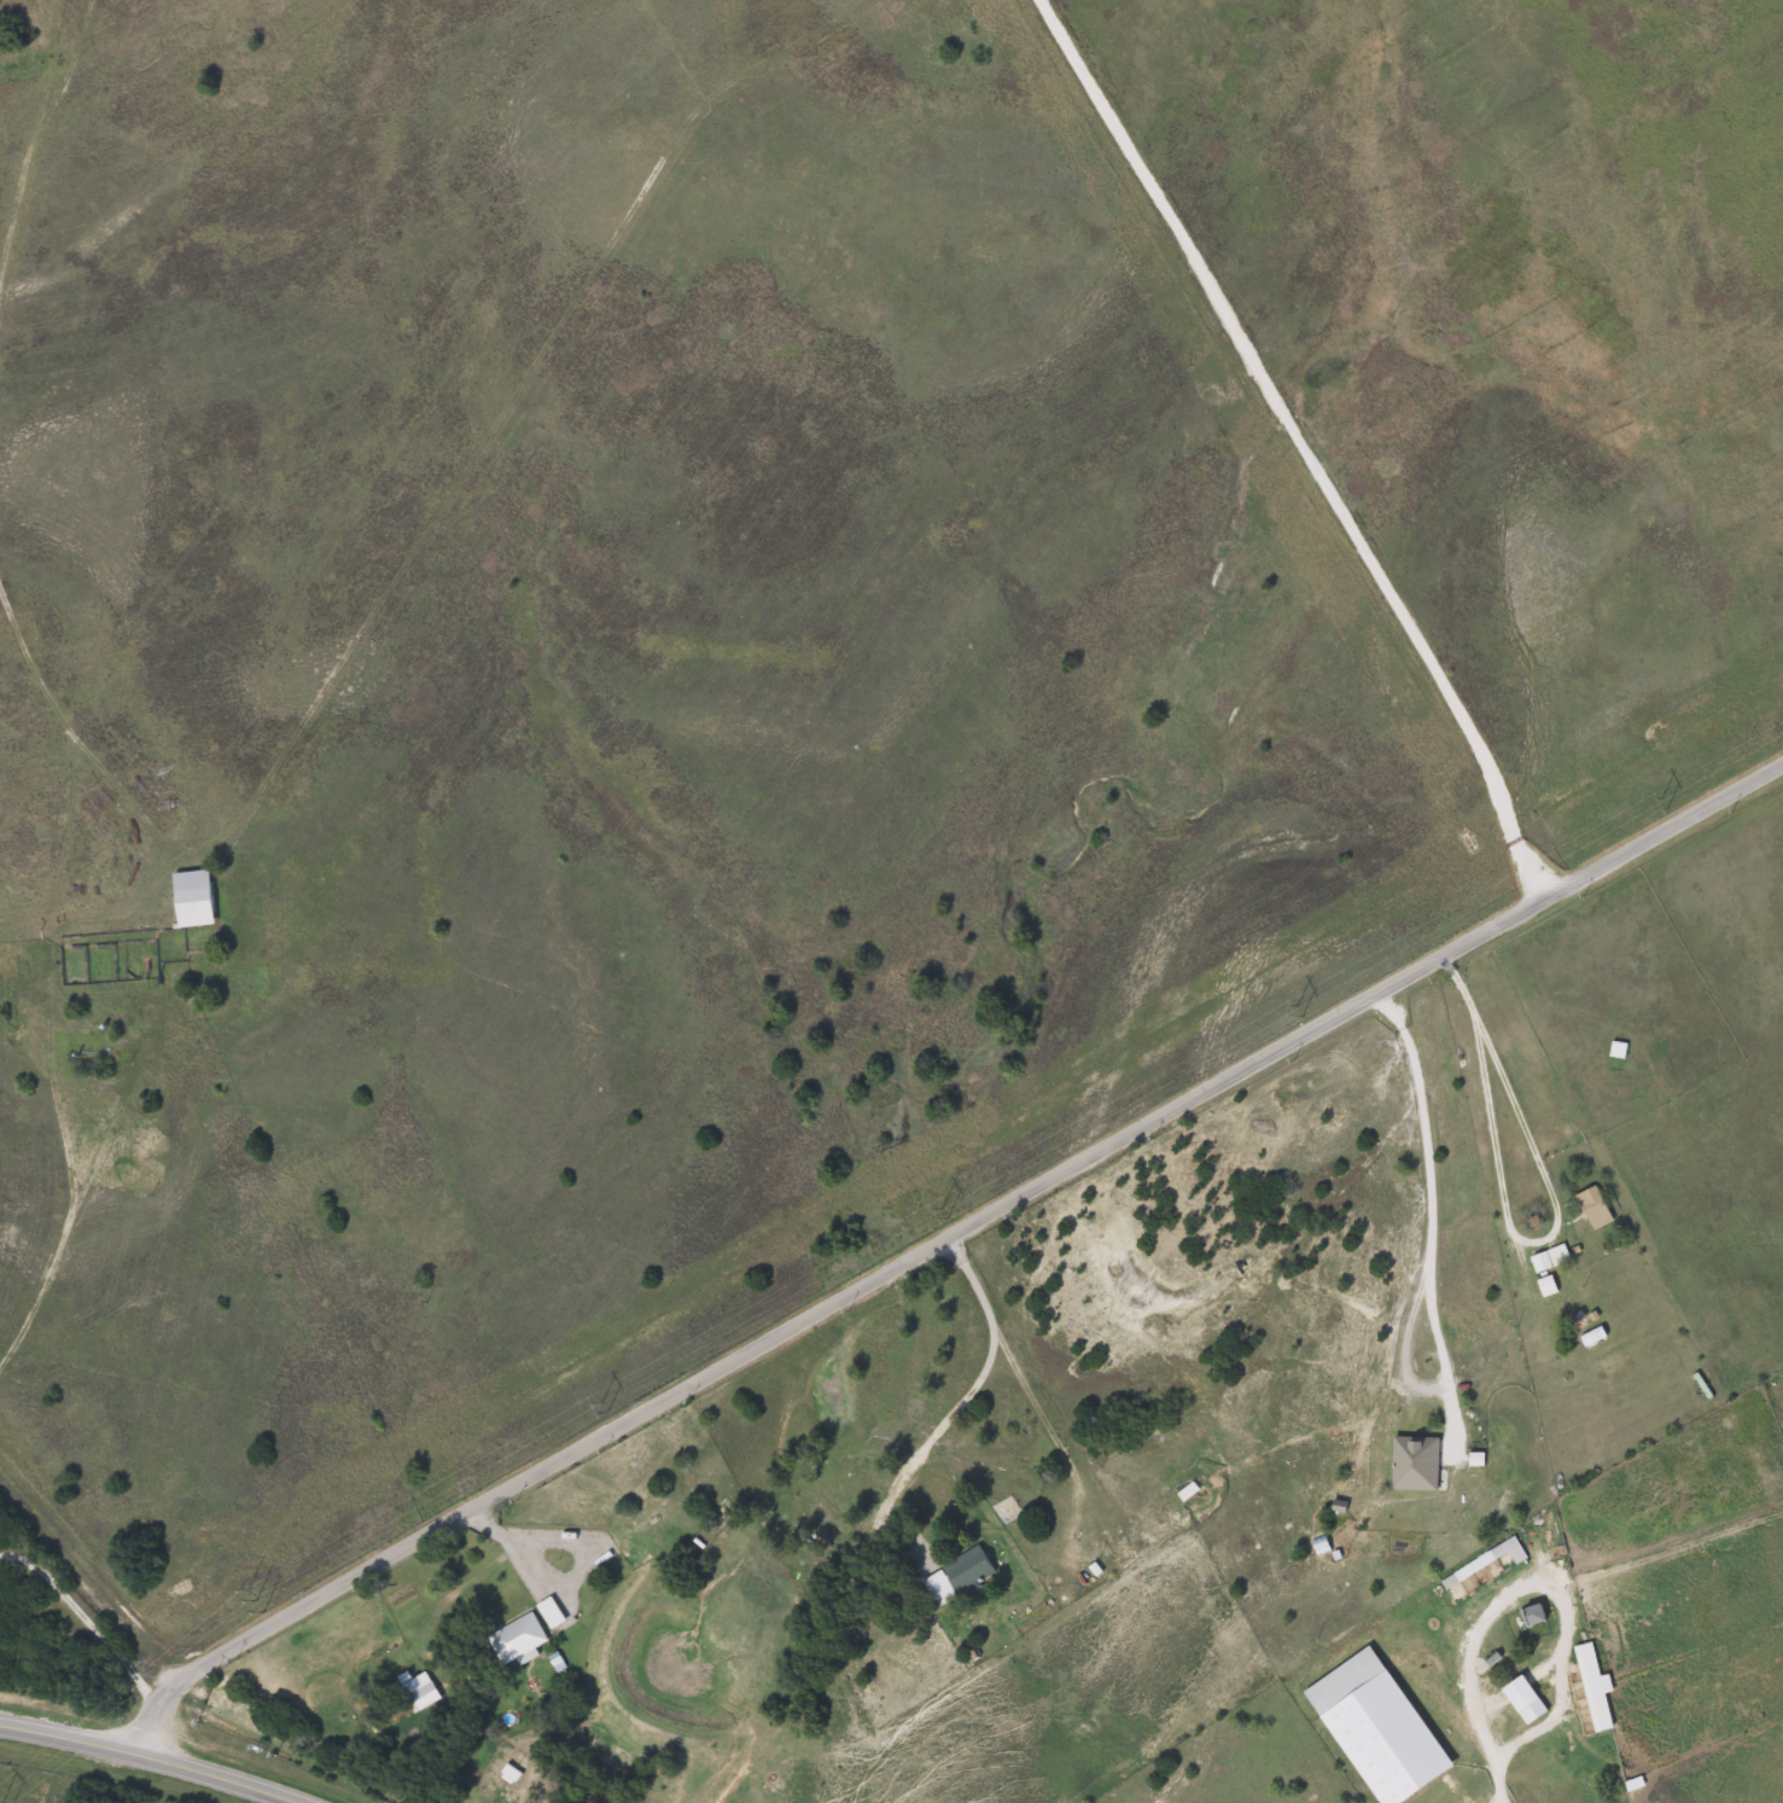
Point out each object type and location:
road: (1298, 438)
building: (190, 898)
building: (1616, 1049)
road: (45, 1066)
road: (80, 1180)
road: (1548, 1203)
building: (1591, 1209)
road: (939, 1239)
road: (1432, 1247)
building: (1546, 1266)
road: (977, 1385)
building: (998, 1513)
road: (497, 1541)
building: (1488, 1566)
building: (955, 1576)
road: (81, 1593)
building: (548, 1613)
building: (1532, 1616)
road: (88, 1628)
building: (514, 1640)
road: (1555, 1651)
building: (1591, 1688)
building: (416, 1692)
building: (1516, 1694)
road: (1468, 1699)
road: (134, 1760)

